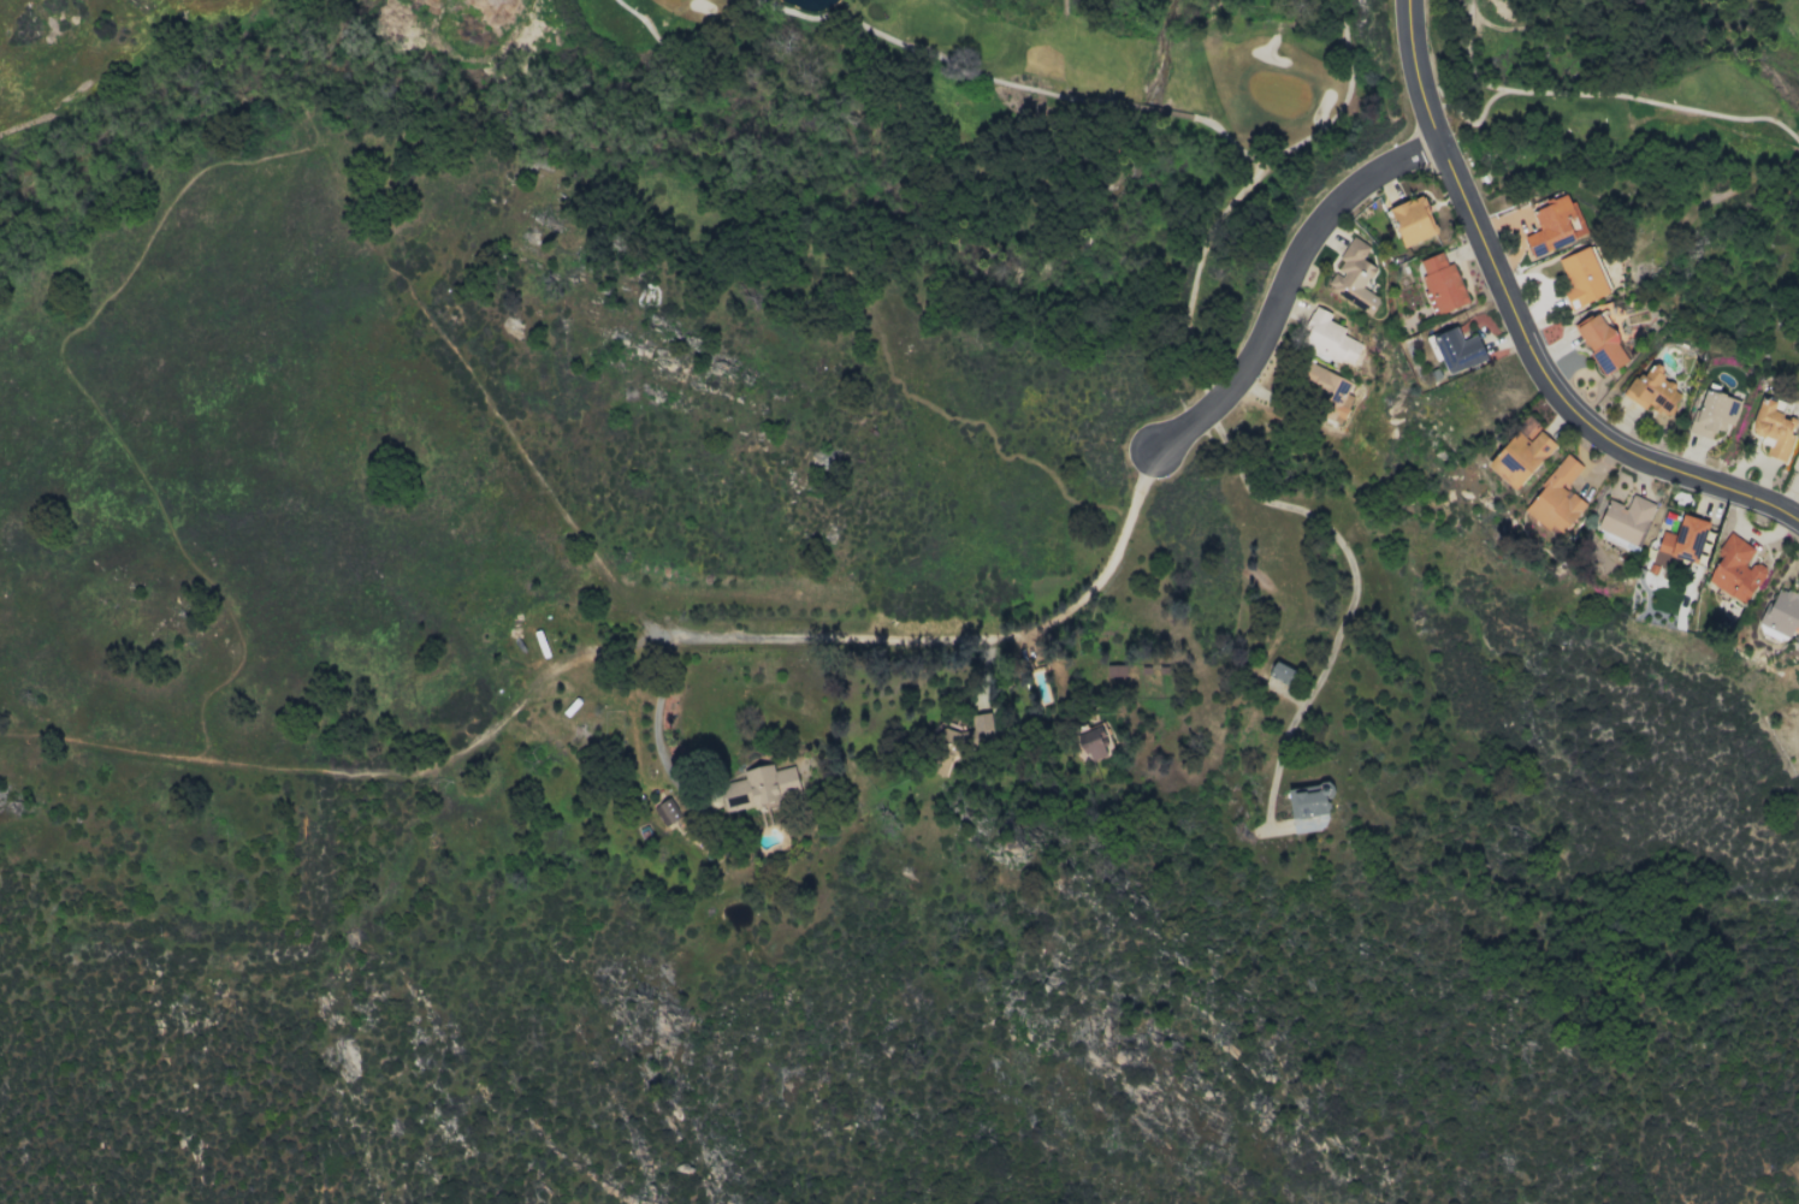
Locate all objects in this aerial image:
road: (863, 26)
road: (1227, 28)
road: (1468, 57)
road: (1611, 95)
road: (1148, 108)
road: (1217, 214)
building: (1412, 220)
park: (1638, 221)
building: (1554, 225)
building: (1354, 275)
building: (1581, 278)
building: (1442, 283)
road: (1522, 328)
building: (1327, 338)
building: (1600, 342)
building: (1457, 349)
building: (1651, 389)
building: (1326, 391)
building: (1712, 413)
building: (1773, 428)
building: (1520, 452)
building: (1555, 498)
building: (1626, 518)
road: (1341, 541)
building: (1680, 541)
building: (1735, 569)
building: (1782, 612)
road: (1032, 630)
building: (1116, 670)
building: (1280, 672)
road: (657, 723)
building: (1094, 742)
road: (1274, 773)
building: (763, 783)
building: (1308, 807)
building: (664, 812)

